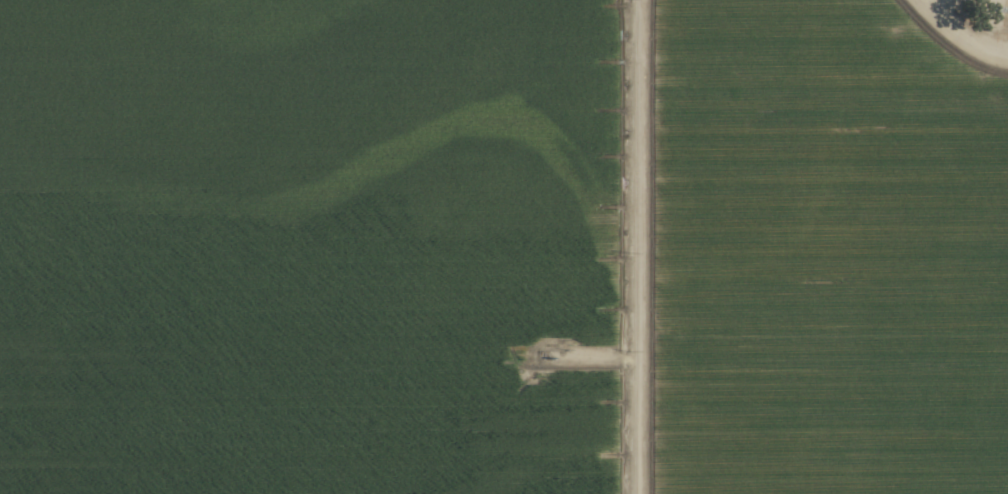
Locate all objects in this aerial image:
road: (924, 10)
road: (637, 247)

